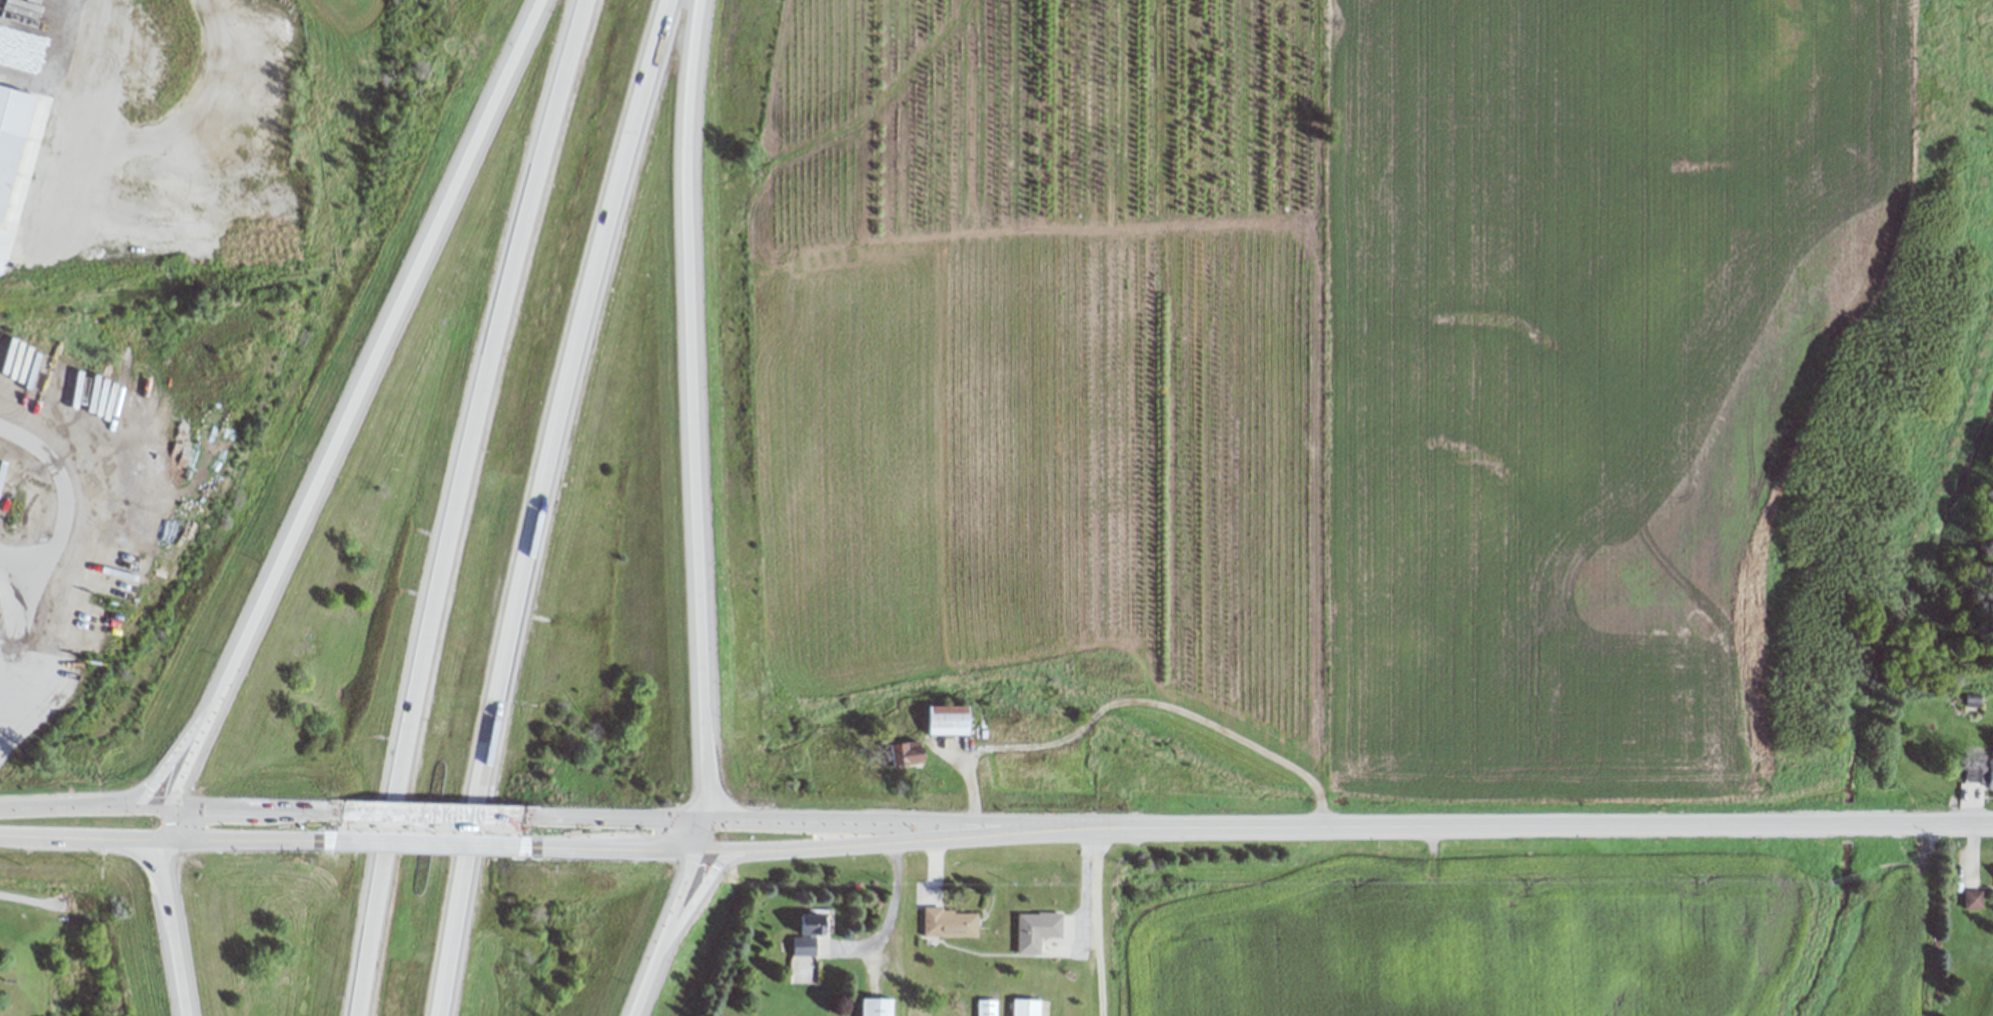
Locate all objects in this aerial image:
crop: (354, 23)
building: (10, 169)
road: (375, 355)
road: (694, 409)
road: (461, 502)
road: (552, 506)
road: (48, 531)
road: (16, 564)
road: (1134, 696)
building: (941, 719)
building: (899, 753)
road: (188, 759)
road: (171, 760)
building: (1978, 773)
road: (82, 804)
road: (255, 810)
road: (427, 815)
road: (603, 819)
road: (792, 821)
road: (163, 822)
road: (1842, 824)
road: (1939, 824)
road: (1342, 825)
road: (693, 833)
road: (80, 835)
road: (250, 836)
road: (423, 839)
road: (597, 844)
road: (788, 846)
road: (690, 894)
road: (673, 896)
building: (1971, 900)
road: (882, 913)
road: (1096, 921)
building: (945, 922)
road: (169, 926)
building: (1031, 930)
building: (800, 936)
road: (641, 980)
building: (872, 1007)
building: (984, 1007)
building: (1026, 1007)

